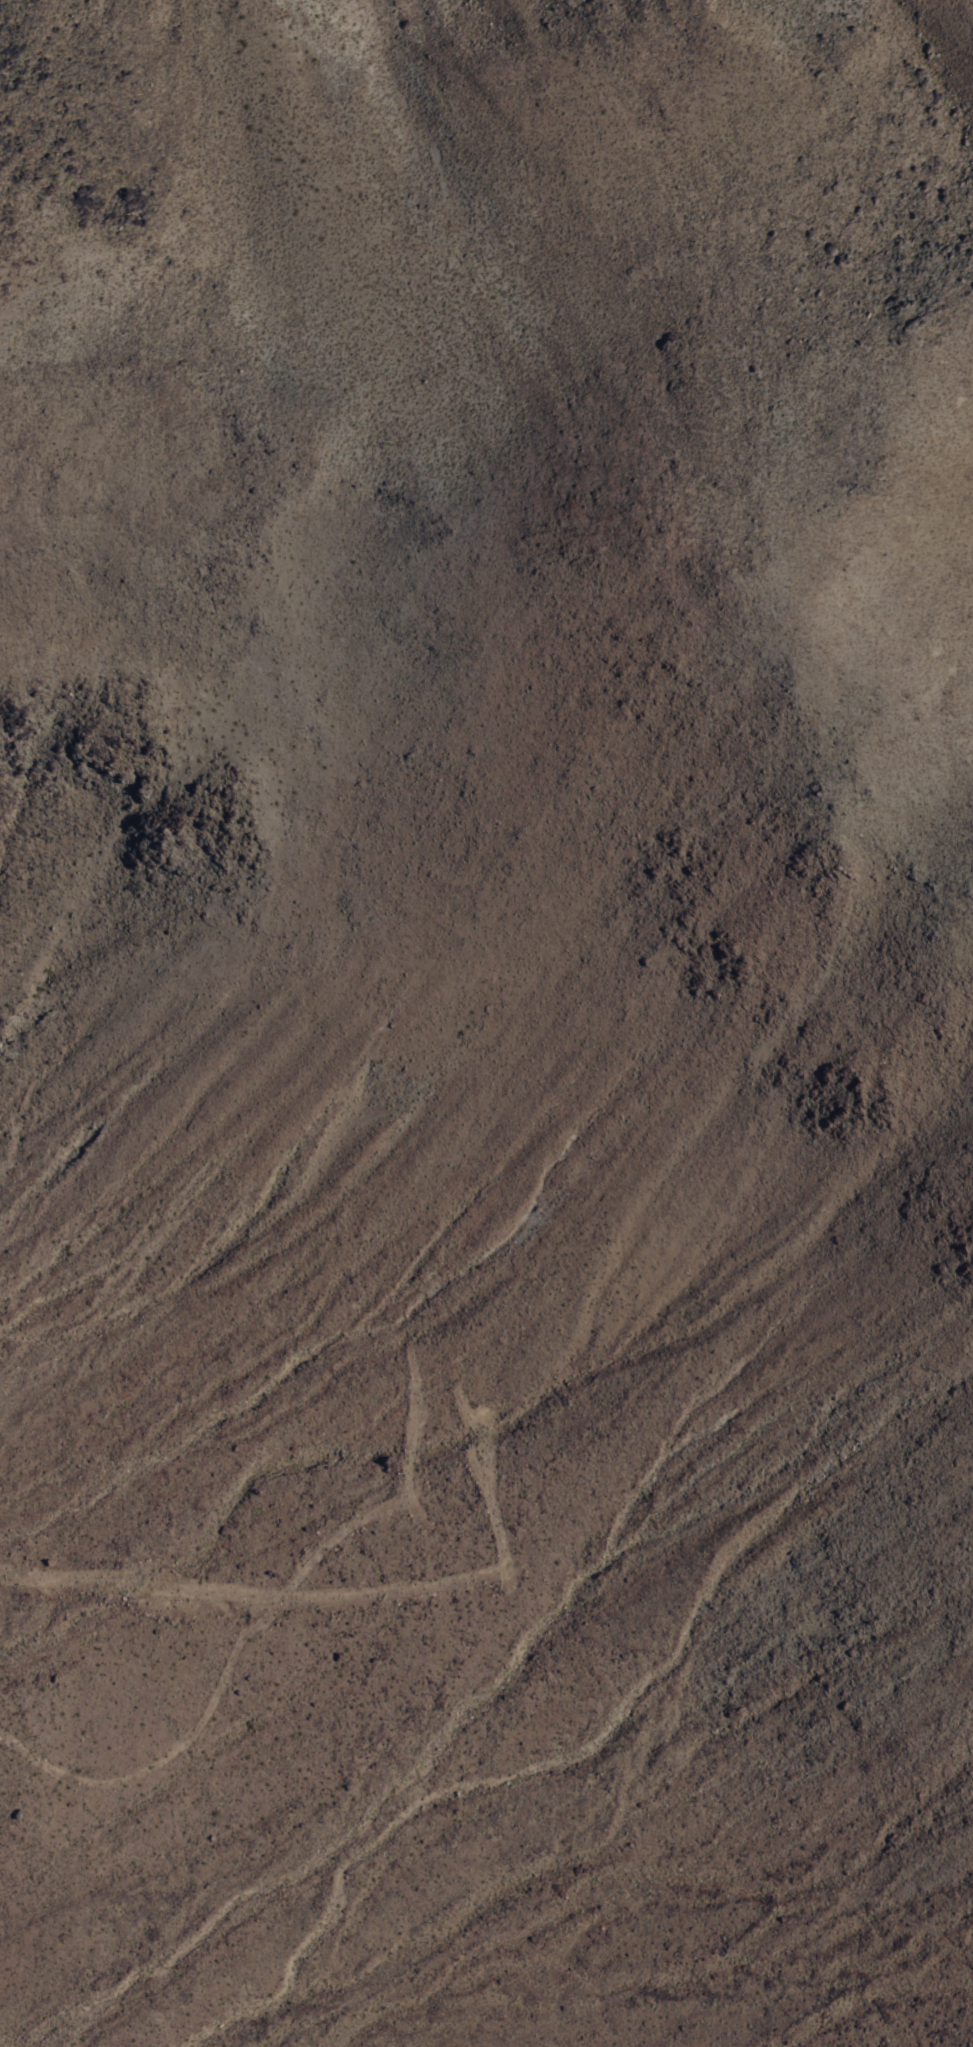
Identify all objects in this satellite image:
road: (293, 1595)
road: (173, 1745)

